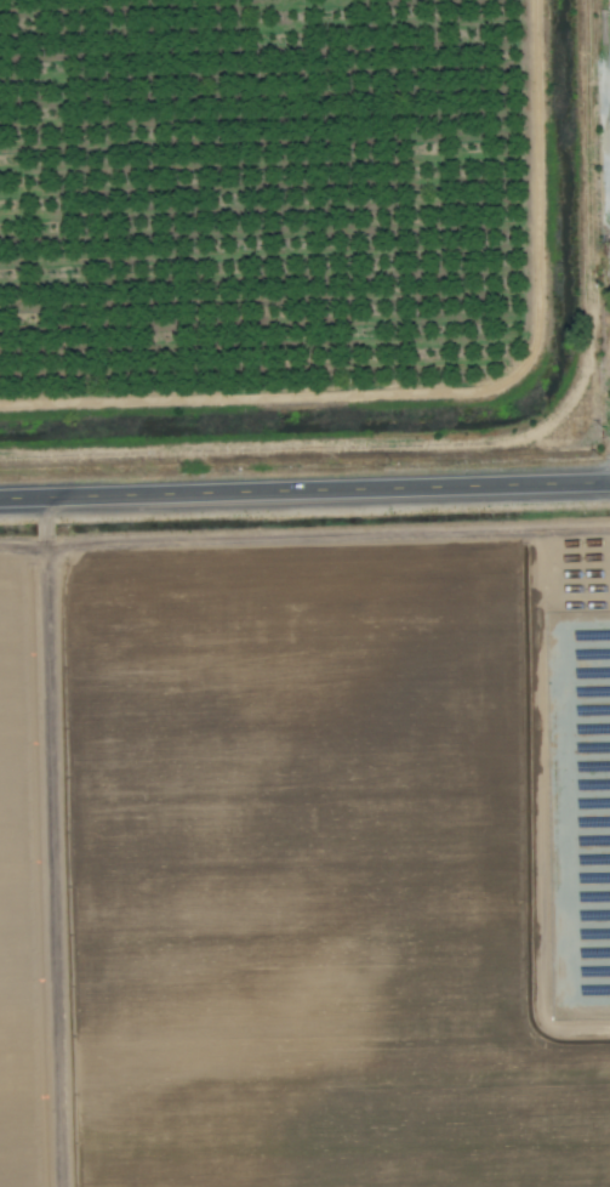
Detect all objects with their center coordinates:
road: (304, 494)

